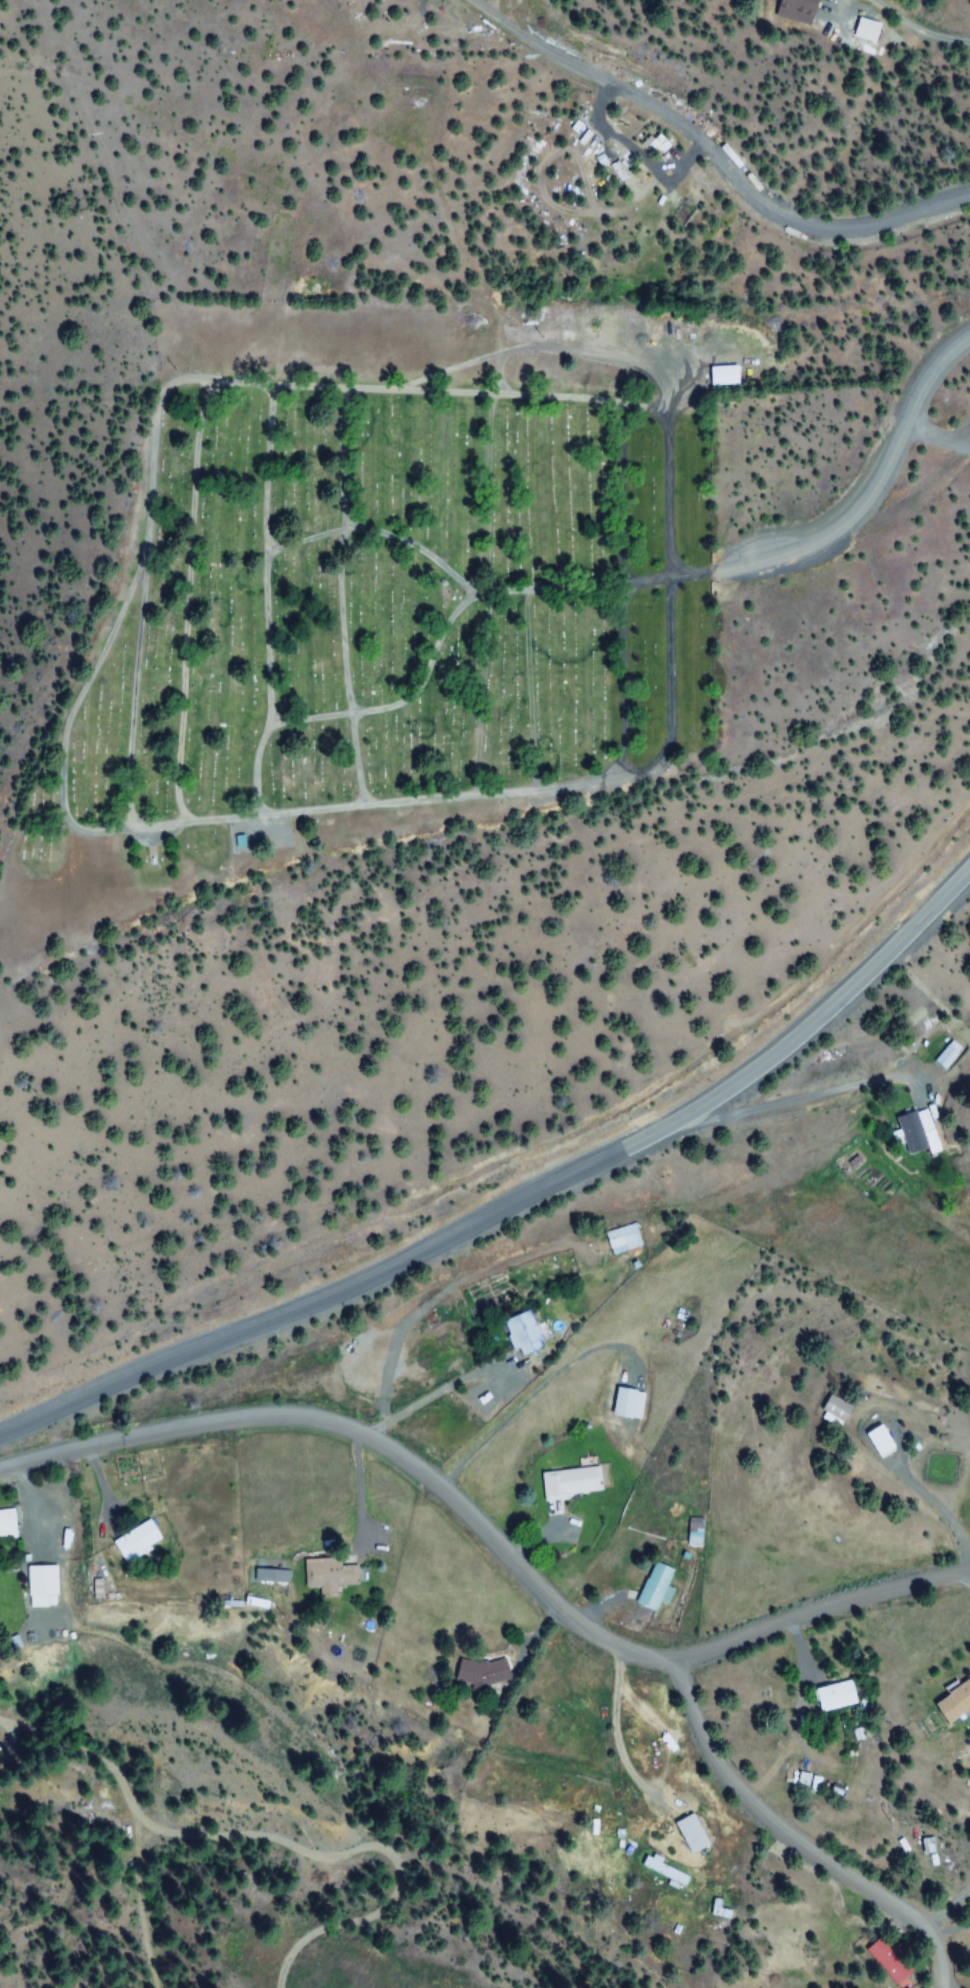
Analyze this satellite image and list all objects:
building: (796, 10)
road: (918, 28)
building: (869, 36)
road: (712, 149)
building: (720, 375)
road: (874, 488)
park: (397, 593)
road: (834, 1007)
building: (947, 1057)
road: (795, 1102)
building: (920, 1134)
building: (622, 1239)
road: (344, 1284)
building: (519, 1335)
building: (620, 1401)
building: (833, 1407)
road: (404, 1411)
building: (877, 1441)
building: (566, 1481)
building: (5, 1523)
building: (690, 1532)
road: (490, 1539)
building: (131, 1540)
building: (323, 1575)
building: (37, 1580)
building: (652, 1586)
building: (475, 1671)
building: (832, 1695)
building: (953, 1702)
building: (686, 1832)
road: (795, 1837)
building: (928, 1845)
building: (663, 1872)
building: (889, 1960)

